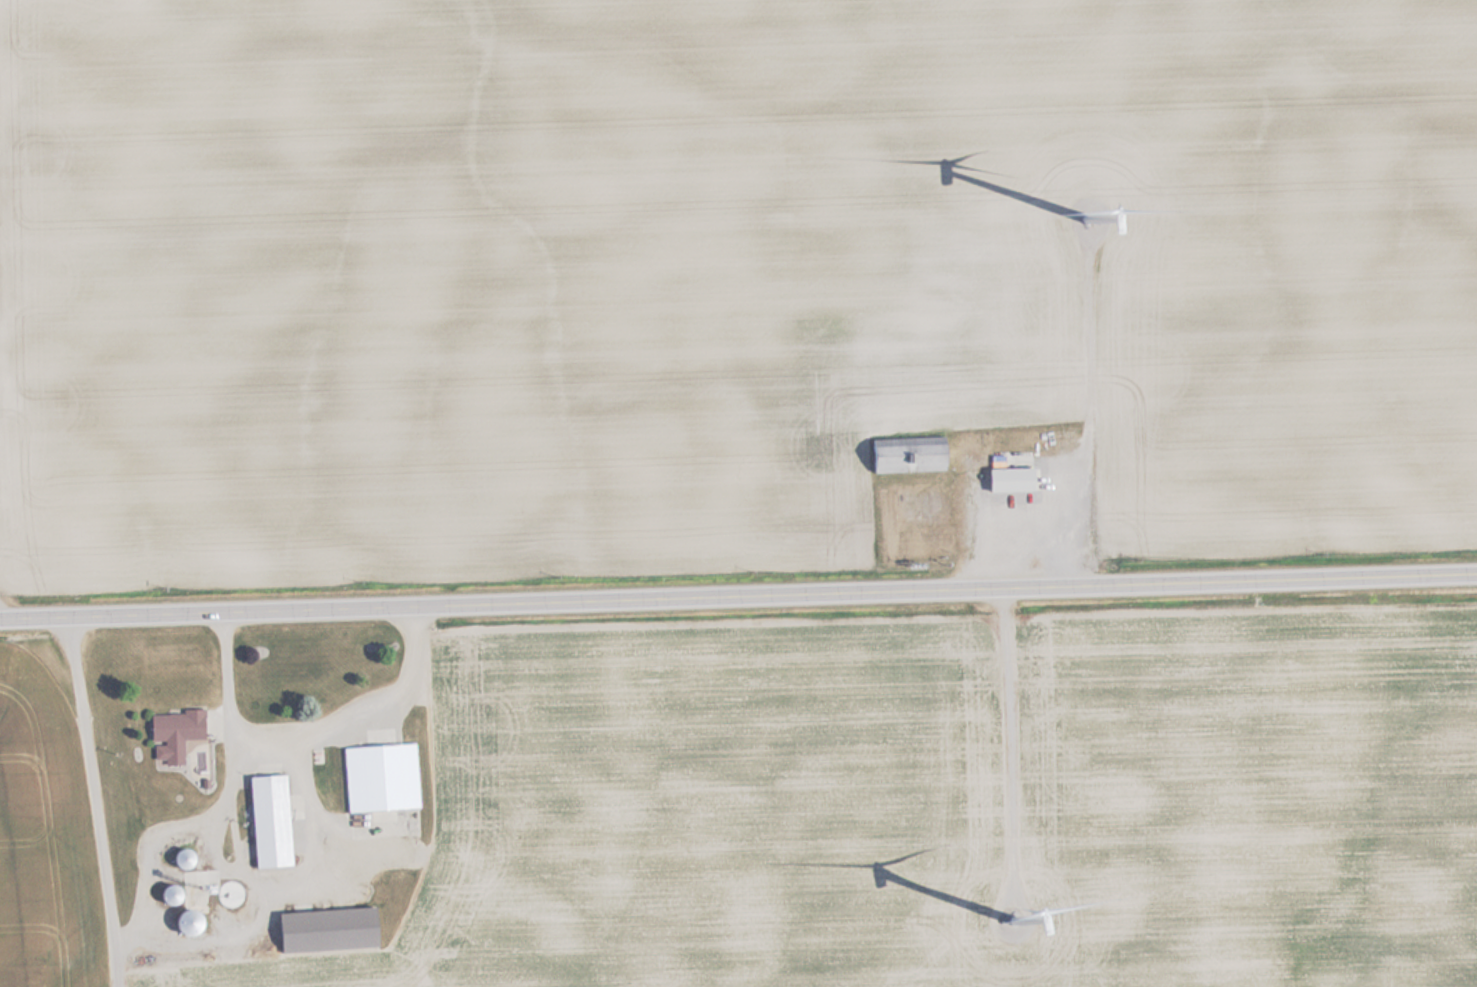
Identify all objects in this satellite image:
wind turbine: (1089, 217)
road: (1080, 411)
building: (912, 455)
building: (1015, 480)
building: (910, 510)
road: (738, 595)
road: (1003, 718)
building: (178, 735)
building: (385, 774)
road: (94, 800)
building: (275, 822)
building: (175, 895)
wind turbine: (1012, 917)
building: (196, 922)
building: (332, 930)

